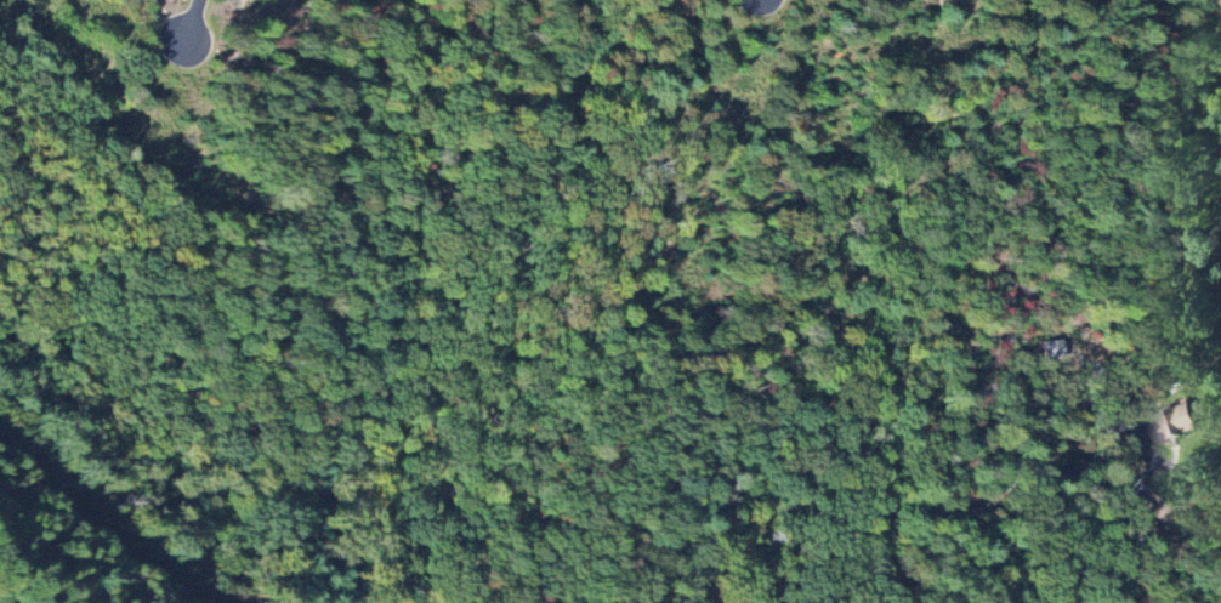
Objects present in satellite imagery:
road: (188, 21)
road: (607, 84)
building: (1172, 423)
road: (1018, 466)

